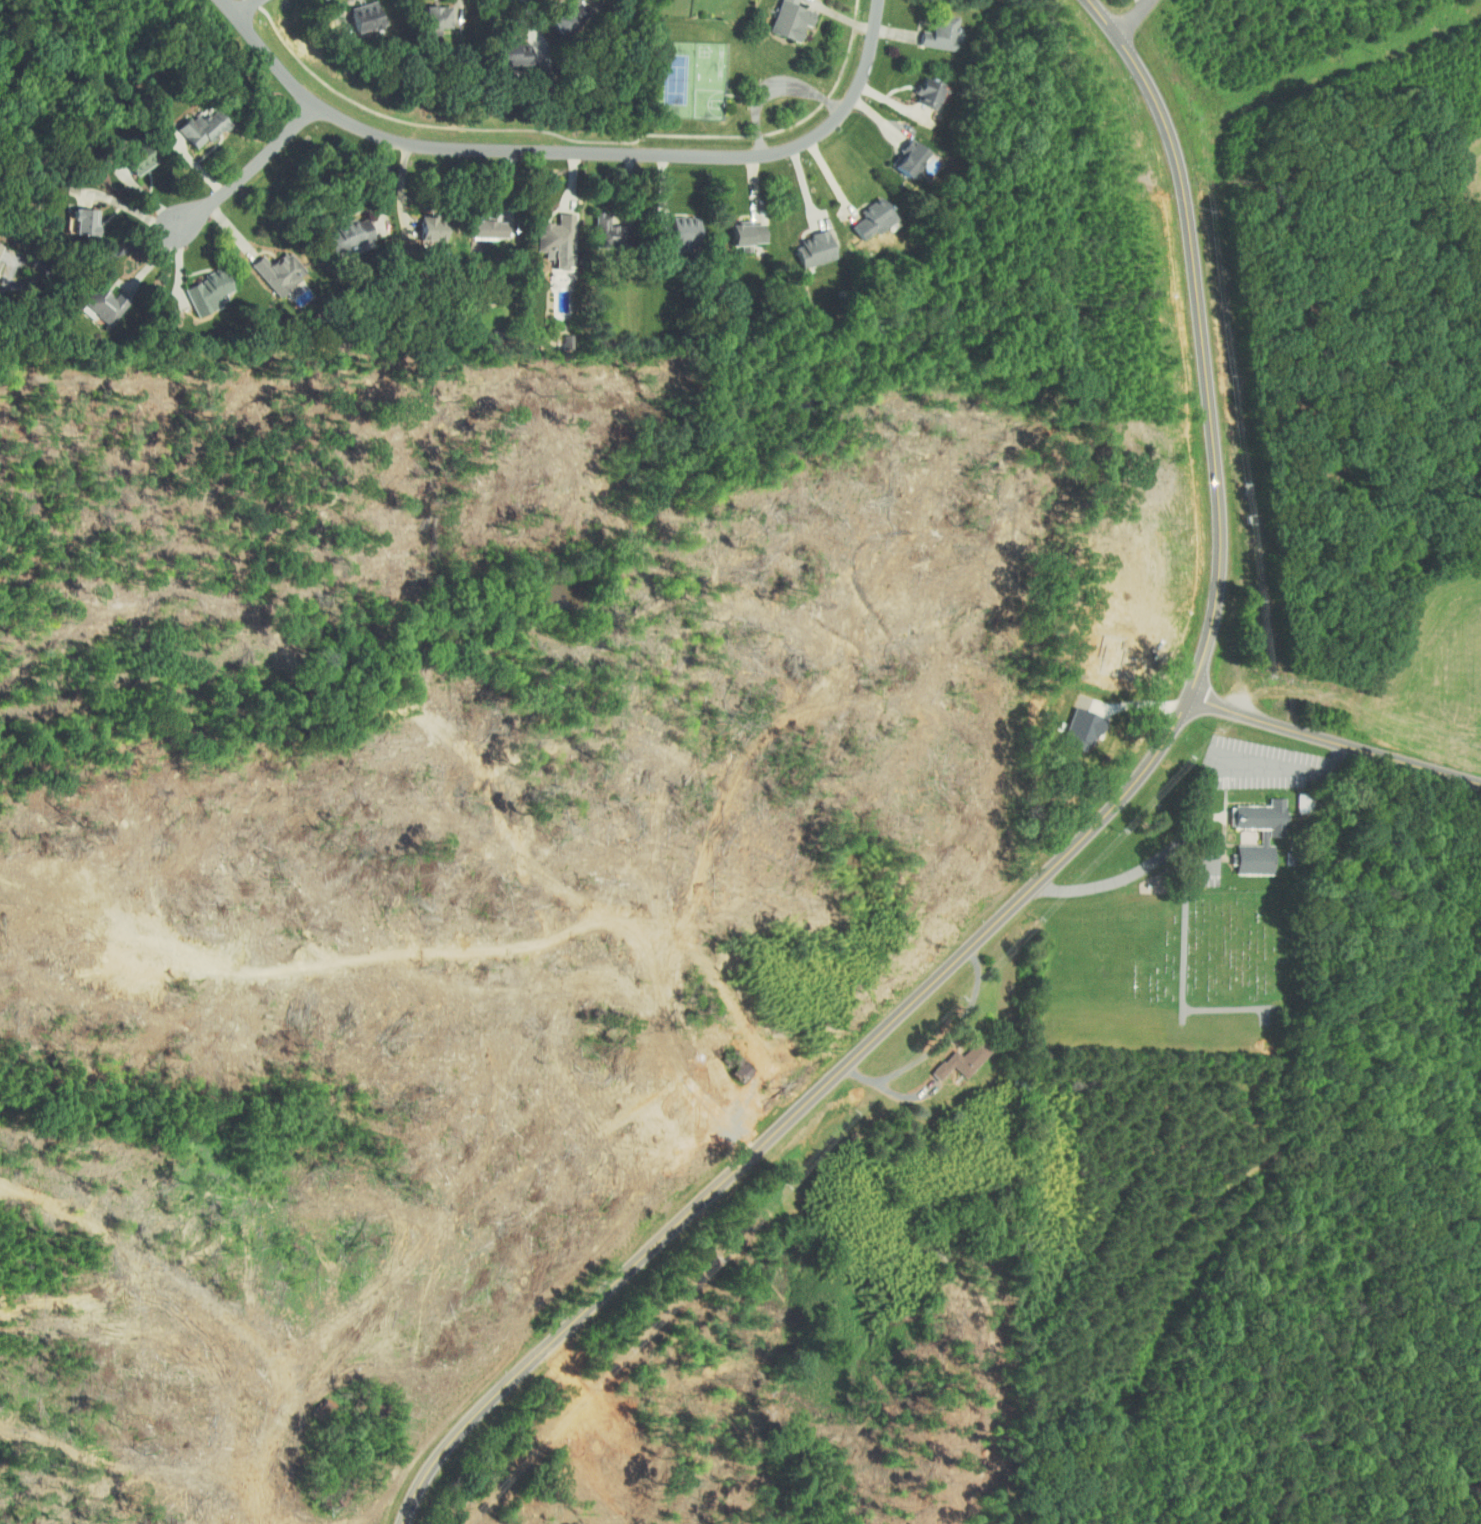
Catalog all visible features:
road: (1147, 2)
road: (244, 7)
building: (429, 16)
road: (1137, 17)
building: (786, 20)
road: (533, 22)
building: (936, 31)
park: (692, 79)
building: (922, 90)
road: (774, 91)
building: (197, 127)
road: (574, 138)
road: (570, 151)
building: (902, 158)
road: (253, 168)
road: (134, 208)
building: (869, 222)
building: (670, 230)
building: (740, 235)
building: (552, 240)
building: (810, 249)
building: (2, 252)
road: (67, 266)
building: (273, 270)
building: (204, 292)
building: (100, 306)
road: (1335, 741)
road: (1198, 807)
building: (1262, 836)
road: (1062, 862)
road: (939, 1042)
building: (959, 1061)
building: (733, 1063)
road: (405, 1441)
road: (377, 1490)

